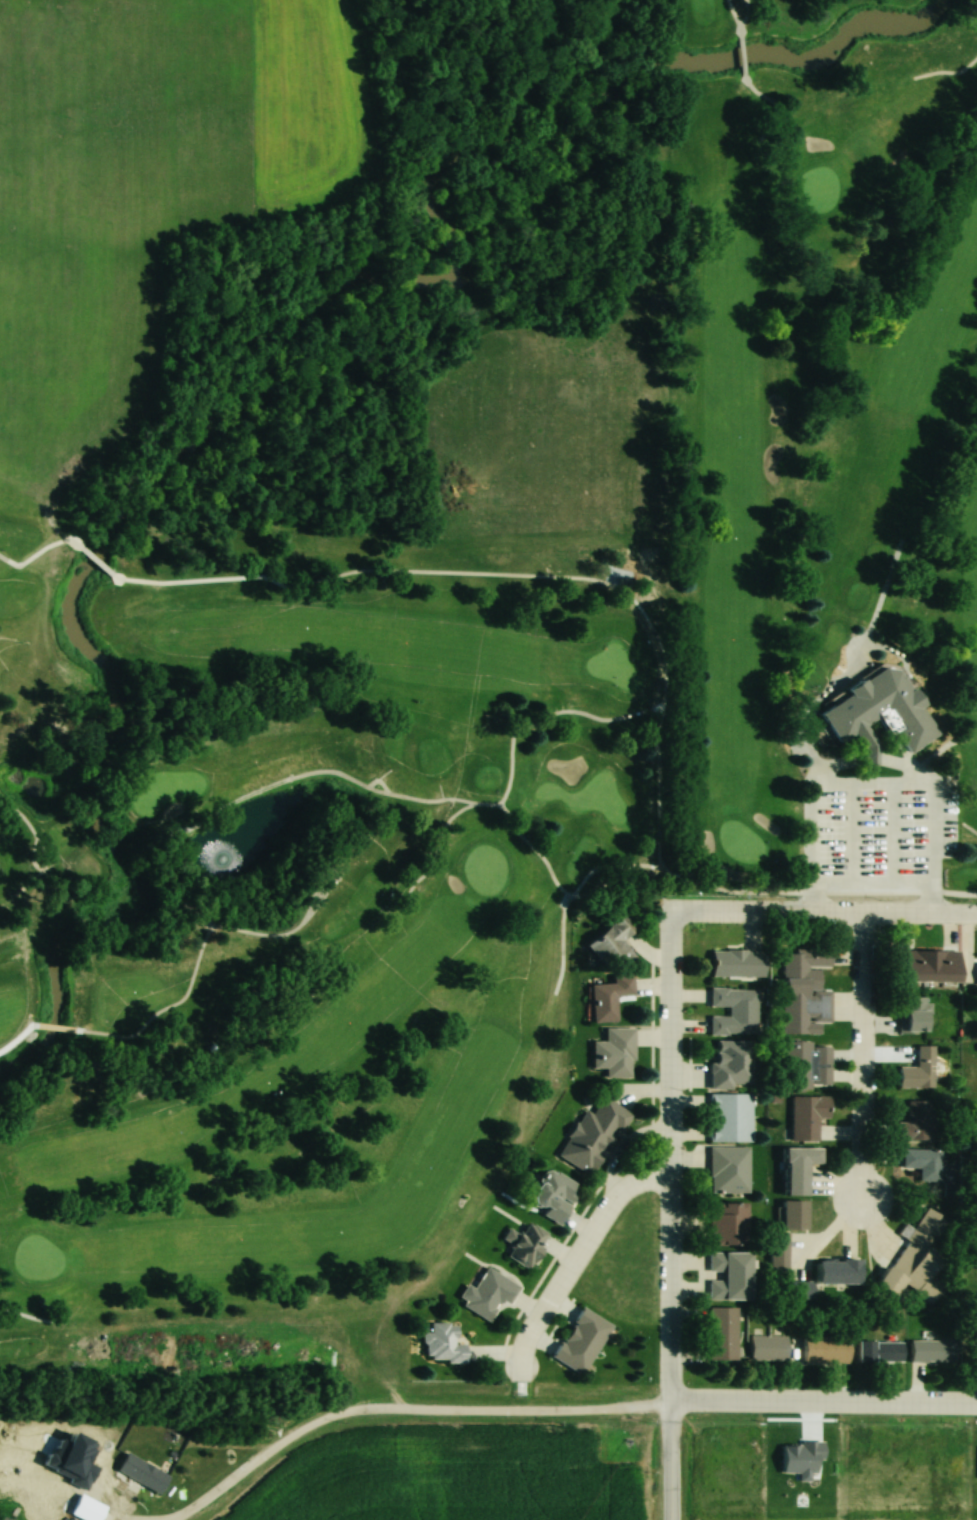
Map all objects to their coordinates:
road: (739, 8)
road: (750, 8)
road: (745, 25)
road: (746, 52)
road: (951, 65)
road: (762, 84)
crop: (307, 105)
road: (769, 106)
crop: (105, 206)
road: (32, 559)
road: (82, 571)
road: (881, 599)
road: (671, 655)
building: (880, 711)
park: (490, 732)
road: (852, 754)
road: (868, 758)
road: (384, 771)
road: (459, 807)
road: (32, 815)
road: (968, 820)
road: (540, 842)
road: (324, 867)
road: (179, 879)
road: (762, 885)
road: (962, 887)
road: (70, 891)
road: (826, 916)
road: (567, 926)
road: (204, 941)
building: (610, 943)
building: (736, 963)
building: (929, 965)
building: (803, 990)
building: (607, 998)
building: (732, 1011)
building: (911, 1014)
road: (54, 1018)
road: (18, 1029)
building: (614, 1053)
road: (860, 1057)
building: (730, 1063)
building: (804, 1065)
building: (917, 1070)
building: (807, 1116)
building: (727, 1117)
building: (917, 1118)
building: (592, 1133)
road: (666, 1158)
building: (923, 1163)
building: (798, 1168)
building: (727, 1169)
building: (552, 1196)
building: (793, 1215)
building: (727, 1222)
building: (523, 1244)
road: (578, 1253)
building: (778, 1254)
building: (916, 1260)
building: (837, 1271)
building: (729, 1275)
building: (486, 1292)
road: (23, 1302)
building: (721, 1334)
building: (581, 1341)
building: (440, 1343)
building: (767, 1347)
building: (825, 1349)
building: (879, 1352)
building: (931, 1352)
road: (397, 1399)
road: (827, 1406)
road: (677, 1462)
building: (141, 1474)
crop: (836, 1474)
building: (85, 1509)

